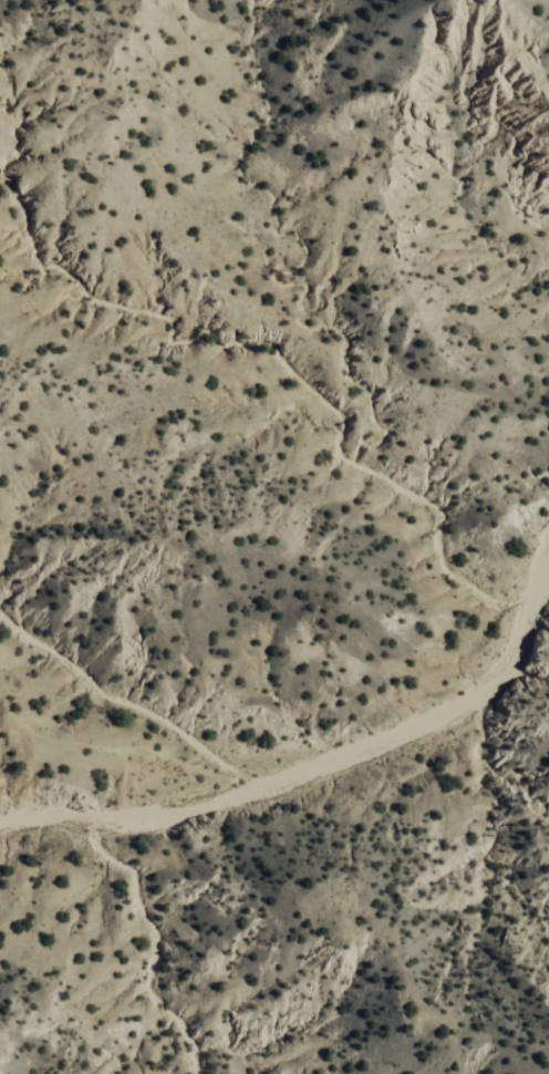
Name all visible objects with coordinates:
road: (302, 760)

